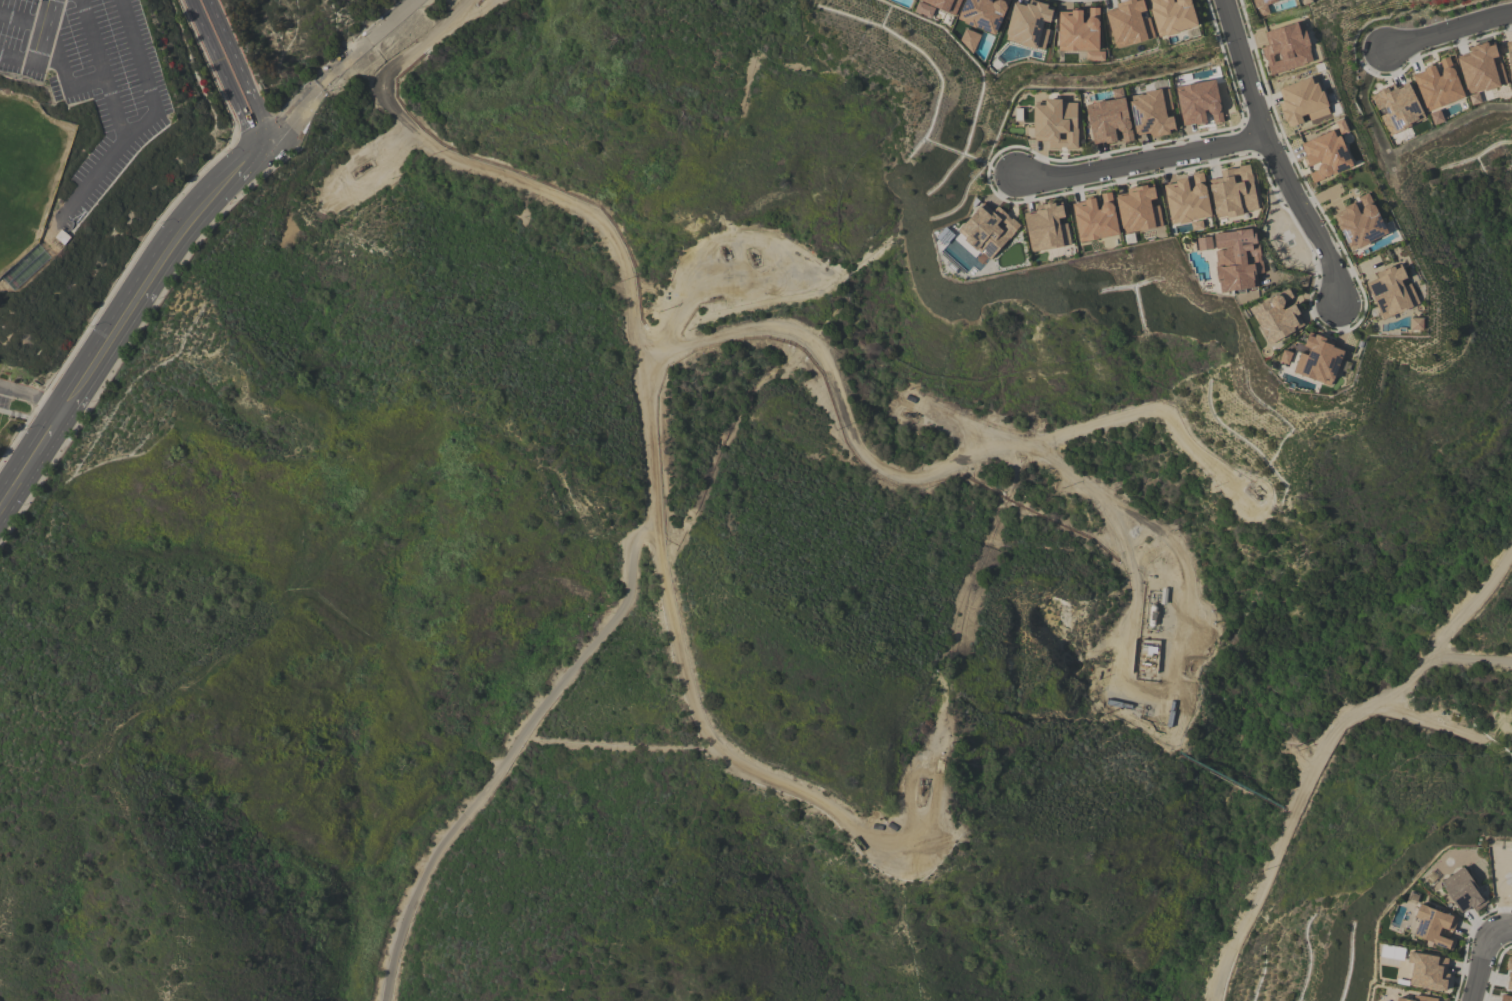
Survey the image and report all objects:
building: (943, 4)
building: (1262, 6)
building: (924, 9)
building: (983, 14)
building: (1172, 16)
road: (22, 21)
building: (1129, 23)
building: (1029, 25)
road: (42, 31)
road: (1450, 31)
building: (1080, 32)
building: (969, 39)
road: (372, 43)
building: (1286, 49)
building: (1509, 56)
road: (17, 58)
building: (1480, 71)
road: (233, 72)
road: (64, 78)
parking lot: (90, 78)
building: (1438, 85)
building: (1302, 101)
building: (1199, 103)
building: (1397, 107)
building: (1151, 112)
road: (295, 114)
building: (1436, 117)
building: (1108, 120)
building: (1056, 124)
road: (130, 135)
road: (1276, 155)
building: (1325, 155)
road: (1141, 159)
petroleum well: (359, 168)
road: (92, 178)
park: (25, 179)
building: (1233, 192)
building: (1187, 201)
building: (1138, 209)
building: (1094, 218)
building: (1359, 223)
building: (1047, 227)
building: (987, 230)
building: (65, 240)
building: (1204, 243)
petroleum well: (724, 250)
petroleum well: (751, 254)
building: (1236, 259)
road: (156, 272)
building: (1392, 291)
building: (1276, 317)
building: (1416, 323)
building: (1284, 357)
building: (1318, 360)
parking lot: (5, 392)
road: (32, 402)
road: (50, 435)
road: (948, 465)
road: (18, 484)
road: (656, 497)
road: (1471, 658)
road: (620, 741)
road: (1325, 747)
road: (511, 750)
building: (1462, 891)
building: (1434, 926)
road: (1483, 957)
building: (1427, 971)
building: (1509, 973)
building: (1417, 998)
building: (1505, 998)

